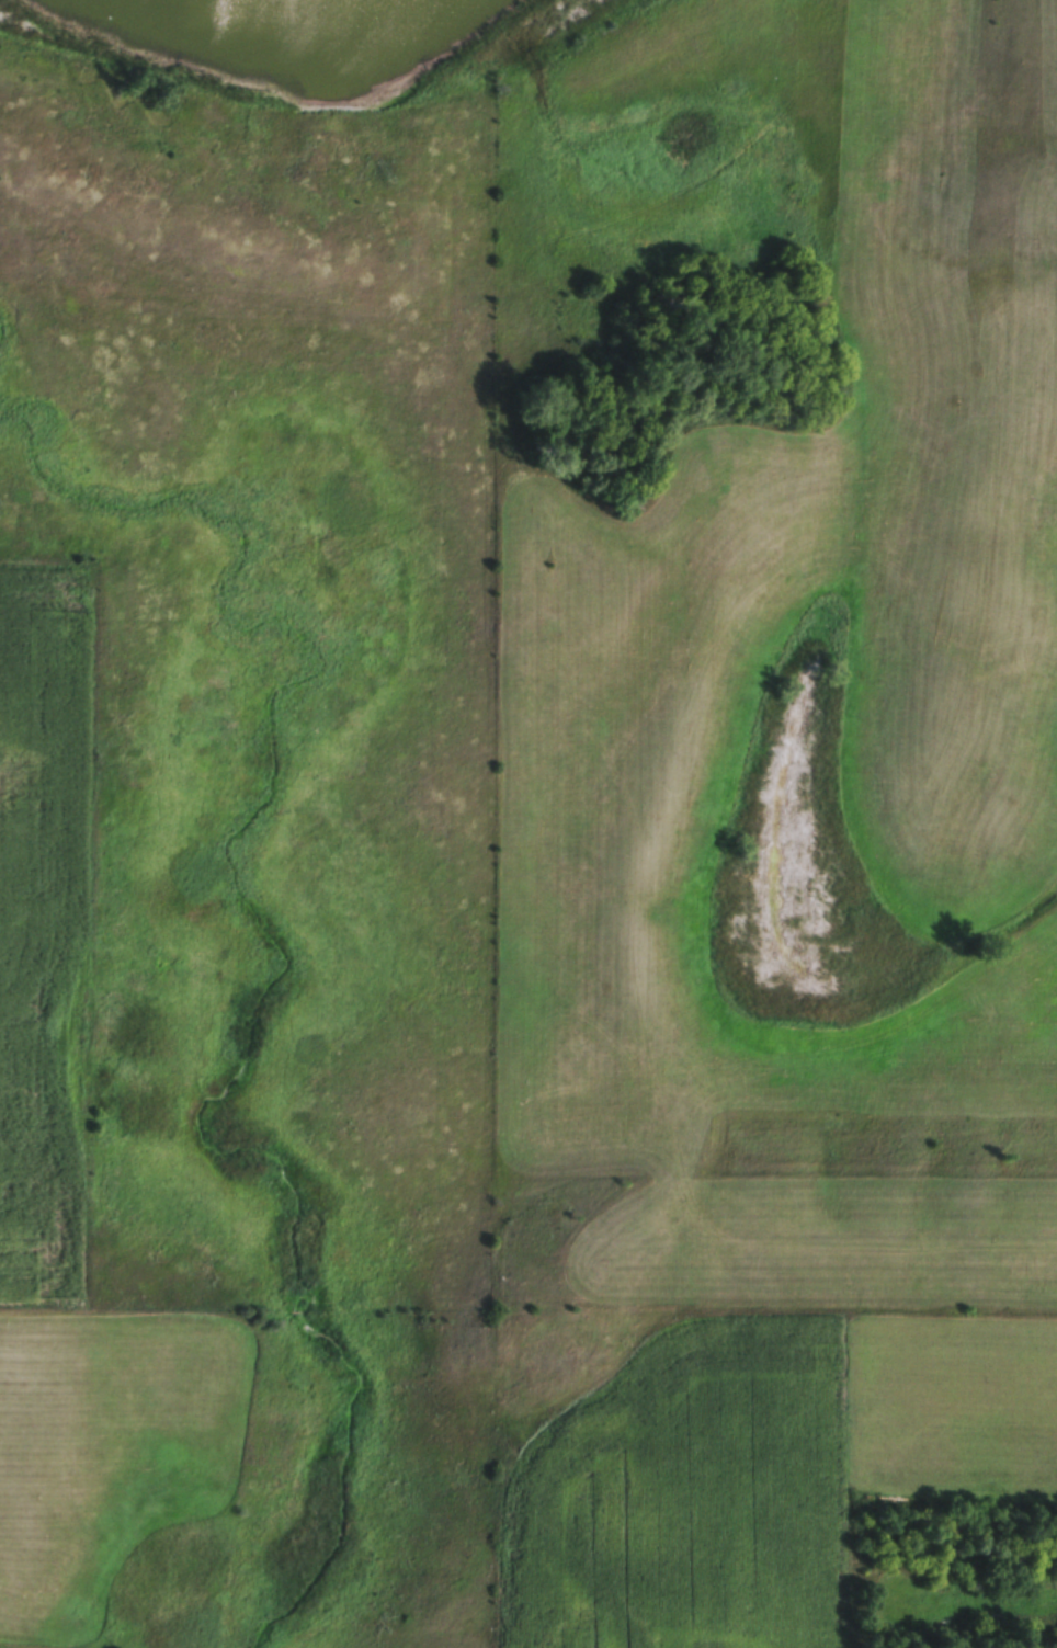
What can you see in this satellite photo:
power tower: (185, 189)
power tower: (591, 352)

